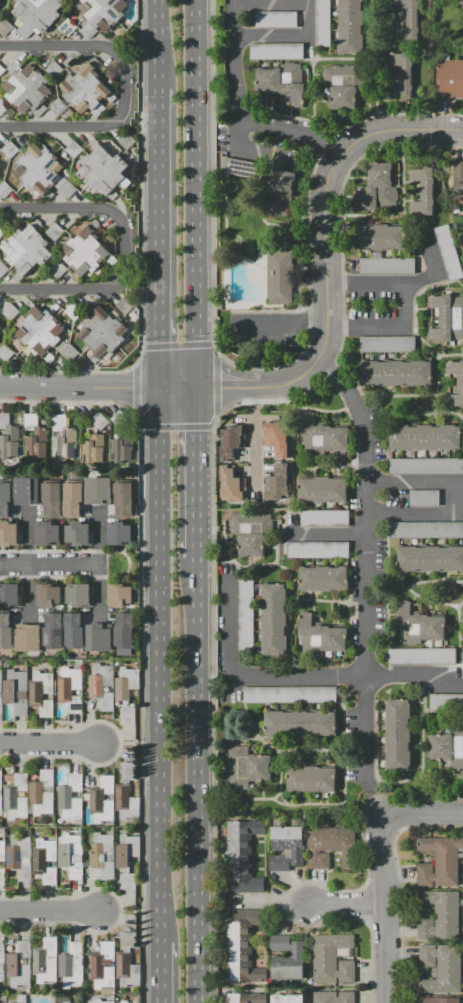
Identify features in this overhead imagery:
building: (0, 6)
building: (460, 6)
building: (37, 15)
building: (101, 15)
building: (275, 20)
building: (408, 21)
building: (322, 23)
building: (350, 26)
building: (4, 27)
building: (68, 27)
road: (300, 36)
road: (160, 43)
road: (59, 45)
building: (276, 51)
building: (54, 69)
building: (1, 70)
building: (450, 78)
building: (405, 79)
building: (283, 82)
building: (345, 84)
building: (28, 89)
building: (86, 90)
building: (58, 106)
building: (3, 107)
road: (98, 127)
road: (278, 130)
building: (126, 141)
building: (9, 149)
building: (73, 149)
building: (0, 168)
building: (243, 168)
building: (103, 169)
building: (44, 172)
building: (283, 172)
building: (458, 180)
building: (378, 189)
building: (4, 190)
building: (422, 190)
road: (197, 195)
road: (97, 207)
building: (2, 231)
building: (55, 232)
road: (159, 237)
building: (381, 237)
building: (27, 249)
building: (86, 252)
building: (448, 252)
building: (387, 266)
building: (3, 269)
road: (326, 274)
road: (431, 274)
building: (279, 276)
road: (59, 290)
road: (406, 303)
building: (124, 304)
building: (10, 310)
building: (74, 311)
building: (447, 317)
road: (280, 323)
building: (0, 328)
building: (40, 331)
building: (103, 332)
building: (387, 344)
building: (69, 352)
building: (5, 353)
building: (396, 374)
building: (456, 383)
road: (79, 388)
traffic signals: (159, 389)
traffic signals: (196, 390)
building: (120, 419)
building: (100, 421)
building: (35, 436)
building: (322, 436)
building: (9, 437)
building: (425, 437)
building: (62, 439)
building: (278, 439)
building: (230, 442)
road: (254, 442)
building: (93, 448)
building: (120, 451)
building: (426, 466)
road: (197, 474)
building: (278, 483)
building: (231, 486)
building: (323, 490)
building: (26, 491)
building: (99, 491)
building: (5, 499)
building: (52, 499)
building: (424, 499)
road: (454, 499)
building: (73, 500)
building: (123, 500)
building: (324, 518)
building: (426, 530)
building: (250, 532)
building: (8, 533)
building: (47, 533)
building: (78, 533)
building: (119, 533)
road: (326, 533)
building: (317, 550)
building: (429, 558)
road: (52, 564)
building: (322, 578)
road: (363, 581)
road: (424, 581)
road: (376, 592)
building: (119, 594)
building: (10, 595)
building: (48, 595)
building: (78, 595)
road: (425, 601)
building: (245, 613)
building: (462, 613)
building: (273, 618)
building: (418, 626)
building: (6, 630)
building: (53, 630)
building: (74, 630)
building: (124, 631)
building: (320, 636)
building: (98, 637)
building: (28, 638)
building: (462, 647)
building: (421, 656)
road: (159, 664)
road: (246, 678)
road: (417, 678)
building: (69, 684)
building: (101, 685)
building: (0, 691)
building: (16, 691)
building: (41, 692)
building: (125, 693)
building: (289, 694)
building: (446, 702)
building: (299, 723)
building: (398, 735)
road: (49, 743)
building: (447, 746)
building: (247, 767)
building: (1, 779)
building: (311, 779)
road: (201, 780)
building: (41, 793)
building: (126, 793)
building: (16, 796)
building: (70, 797)
building: (102, 800)
building: (0, 804)
road: (426, 812)
building: (330, 846)
building: (286, 848)
building: (2, 851)
building: (71, 854)
building: (102, 854)
building: (19, 856)
building: (242, 856)
building: (126, 859)
building: (44, 860)
building: (440, 861)
building: (2, 875)
road: (385, 903)
road: (347, 904)
road: (48, 911)
building: (439, 915)
building: (242, 945)
building: (286, 958)
building: (1, 959)
building: (332, 959)
building: (45, 960)
building: (126, 961)
building: (19, 963)
road: (173, 963)
building: (71, 965)
building: (104, 966)
building: (441, 968)
road: (159, 972)
building: (334, 997)
building: (247, 998)
building: (64, 999)
building: (287, 999)
building: (438, 1000)
building: (102, 1001)
building: (124, 1002)

